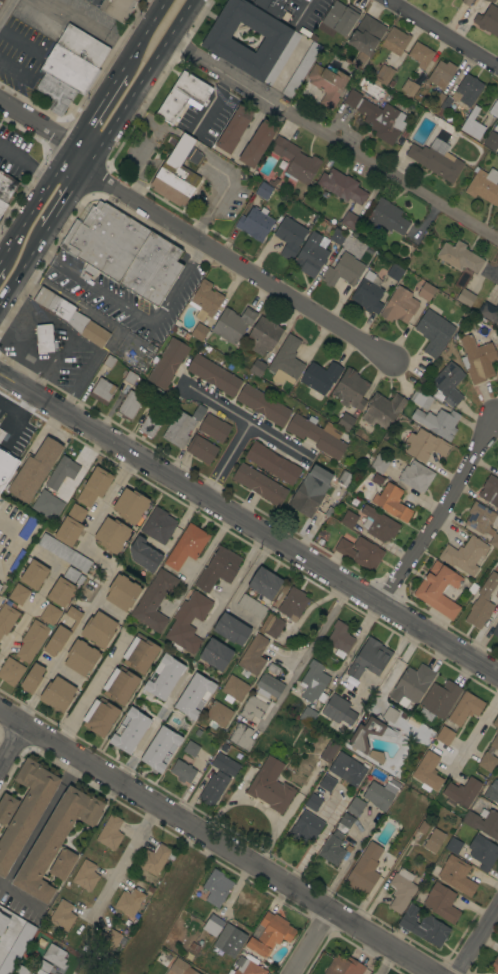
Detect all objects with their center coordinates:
building: (0, 0)
building: (490, 0)
building: (466, 2)
building: (272, 6)
building: (117, 8)
road: (5, 9)
building: (339, 19)
building: (488, 20)
road: (90, 23)
road: (442, 34)
road: (140, 36)
building: (365, 37)
building: (395, 40)
building: (279, 41)
building: (82, 45)
building: (420, 55)
building: (68, 68)
building: (301, 69)
building: (384, 74)
building: (441, 74)
building: (419, 78)
building: (91, 81)
building: (327, 83)
road: (144, 84)
building: (409, 87)
building: (467, 90)
building: (55, 93)
building: (182, 96)
building: (436, 103)
building: (445, 106)
building: (494, 109)
road: (93, 110)
building: (377, 117)
road: (152, 122)
road: (35, 123)
building: (473, 124)
building: (444, 125)
building: (234, 129)
road: (186, 138)
road: (335, 140)
building: (490, 140)
building: (257, 143)
building: (496, 147)
building: (193, 156)
road: (79, 158)
building: (436, 159)
road: (138, 160)
building: (295, 160)
building: (176, 174)
building: (6, 186)
building: (342, 186)
road: (226, 187)
building: (484, 187)
building: (263, 190)
road: (71, 200)
road: (34, 204)
building: (2, 207)
building: (386, 217)
building: (350, 220)
building: (255, 223)
building: (337, 236)
building: (290, 237)
building: (123, 252)
building: (310, 255)
building: (459, 257)
road: (244, 267)
building: (343, 271)
road: (25, 272)
building: (394, 272)
building: (367, 294)
building: (465, 297)
building: (205, 300)
building: (405, 302)
building: (489, 312)
road: (134, 314)
building: (71, 316)
building: (232, 324)
building: (434, 331)
building: (200, 332)
building: (263, 335)
building: (186, 336)
building: (45, 339)
building: (477, 359)
building: (108, 361)
building: (286, 361)
building: (167, 363)
building: (257, 368)
building: (213, 375)
building: (130, 377)
building: (320, 378)
building: (447, 384)
building: (350, 389)
building: (102, 391)
building: (153, 397)
building: (421, 398)
building: (263, 405)
building: (128, 406)
building: (382, 410)
road: (249, 420)
building: (345, 422)
building: (438, 422)
building: (148, 426)
building: (182, 426)
building: (214, 428)
building: (319, 435)
building: (425, 445)
building: (15, 449)
building: (201, 449)
road: (228, 460)
building: (272, 463)
building: (379, 463)
building: (33, 470)
building: (497, 471)
building: (62, 472)
building: (416, 476)
building: (344, 478)
building: (377, 479)
building: (259, 484)
building: (94, 487)
building: (490, 490)
building: (310, 491)
building: (391, 502)
building: (47, 505)
building: (130, 505)
road: (442, 511)
building: (349, 519)
building: (483, 521)
building: (378, 524)
building: (158, 525)
road: (249, 525)
building: (70, 526)
building: (112, 534)
building: (186, 546)
building: (64, 552)
building: (360, 552)
building: (144, 554)
building: (464, 555)
road: (202, 560)
building: (218, 569)
building: (34, 574)
building: (73, 575)
road: (239, 581)
building: (265, 583)
building: (0, 585)
building: (438, 589)
building: (61, 592)
building: (122, 592)
building: (497, 593)
building: (18, 594)
building: (154, 600)
building: (292, 603)
building: (482, 603)
building: (251, 606)
road: (89, 607)
road: (30, 611)
building: (7, 618)
building: (188, 622)
building: (272, 625)
building: (98, 629)
building: (231, 629)
building: (495, 630)
building: (37, 633)
building: (61, 633)
building: (340, 638)
road: (353, 648)
building: (140, 653)
building: (216, 654)
road: (307, 654)
building: (253, 656)
building: (81, 657)
building: (369, 658)
building: (272, 668)
building: (10, 671)
building: (163, 676)
building: (32, 678)
building: (313, 682)
building: (120, 685)
building: (411, 685)
building: (269, 686)
road: (96, 688)
building: (234, 689)
building: (57, 695)
building: (194, 696)
building: (439, 700)
building: (252, 708)
building: (465, 708)
building: (338, 710)
building: (390, 714)
building: (217, 715)
building: (308, 715)
building: (100, 717)
road: (150, 727)
building: (129, 730)
building: (496, 732)
building: (369, 733)
building: (444, 735)
building: (241, 736)
road: (474, 736)
building: (160, 748)
building: (191, 748)
building: (329, 751)
building: (376, 756)
building: (487, 761)
building: (347, 769)
building: (183, 771)
building: (427, 772)
building: (218, 779)
building: (327, 783)
building: (270, 786)
building: (462, 792)
building: (491, 792)
building: (380, 794)
building: (313, 801)
building: (355, 806)
building: (6, 807)
building: (26, 810)
road: (43, 820)
building: (483, 822)
building: (305, 827)
building: (110, 832)
building: (55, 840)
road: (215, 840)
road: (318, 841)
building: (335, 841)
building: (434, 841)
building: (453, 845)
building: (482, 852)
building: (154, 859)
road: (124, 860)
road: (347, 861)
building: (62, 863)
building: (364, 869)
building: (85, 875)
building: (457, 875)
building: (216, 887)
building: (401, 890)
building: (129, 902)
building: (441, 902)
building: (62, 915)
building: (3, 922)
building: (213, 925)
building: (424, 926)
building: (270, 934)
road: (475, 937)
building: (229, 940)
building: (106, 942)
road: (310, 944)
building: (17, 948)
building: (55, 956)
road: (383, 962)
building: (495, 965)
building: (248, 966)
building: (344, 966)
building: (181, 967)
building: (22, 968)

